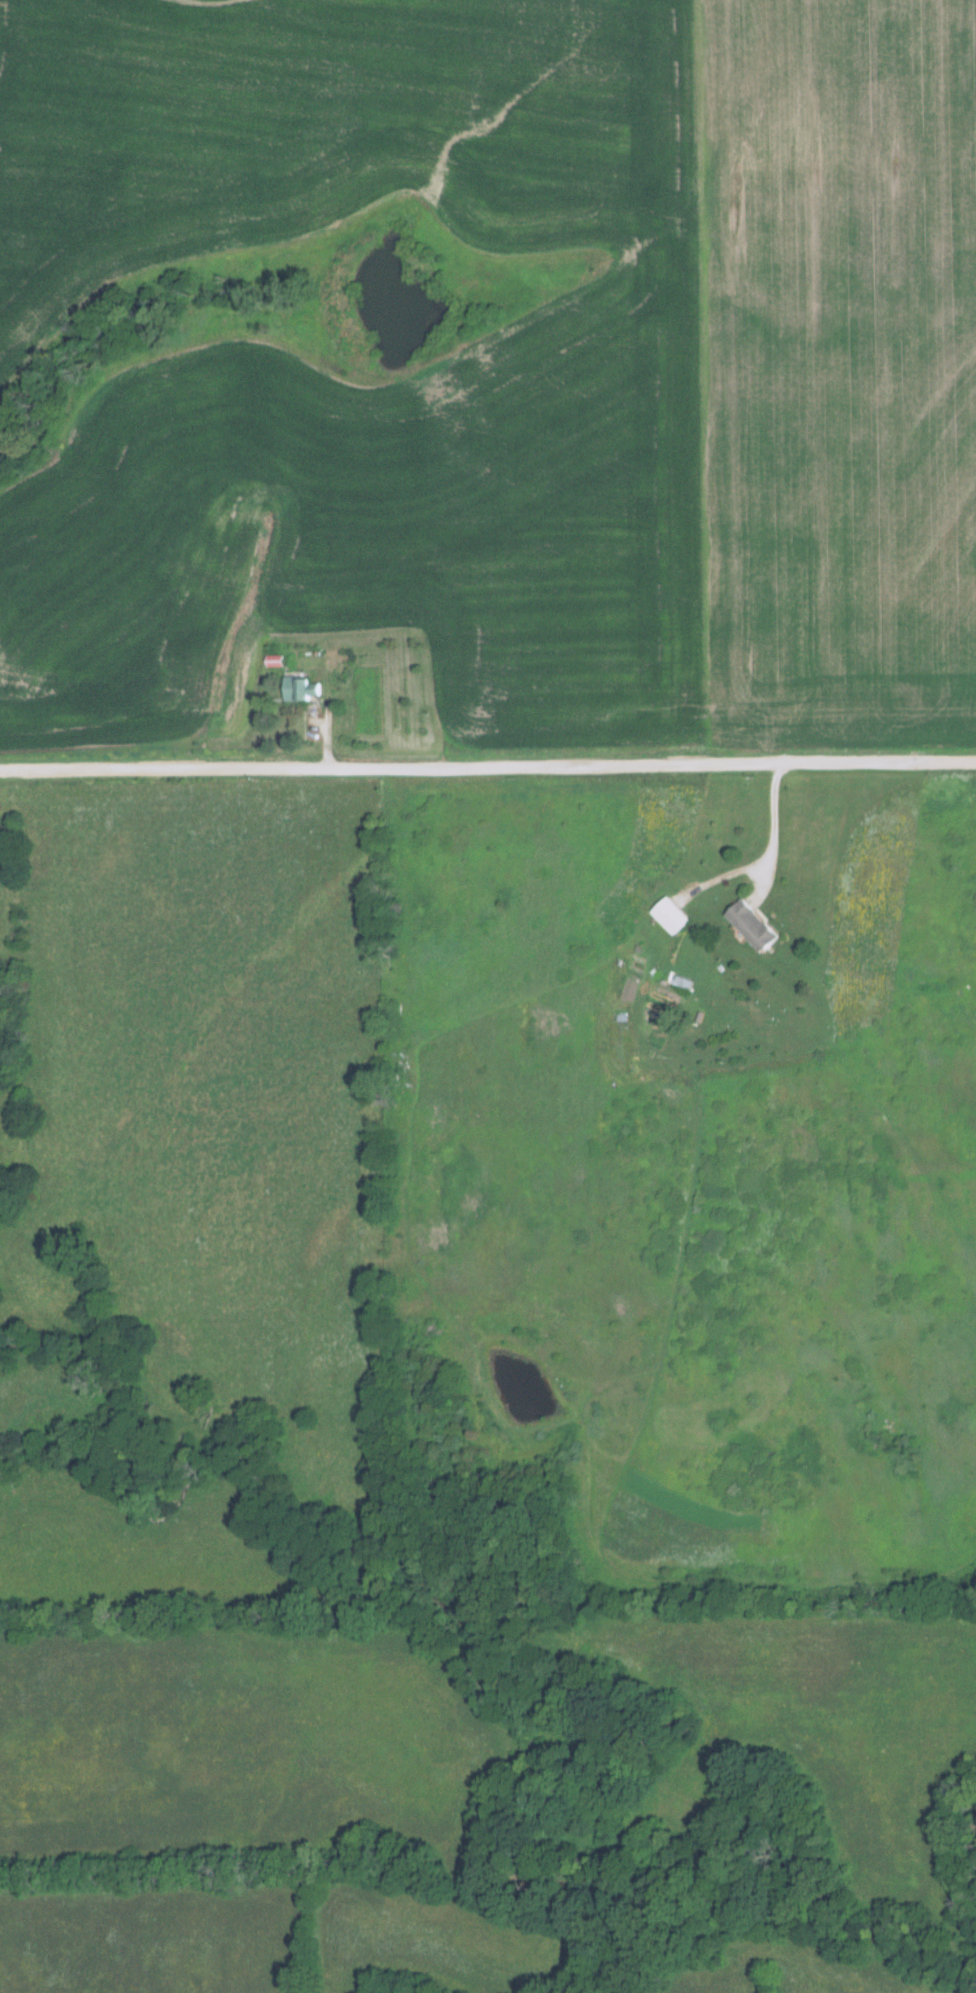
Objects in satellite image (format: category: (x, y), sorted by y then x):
building: (273, 660)
building: (301, 688)
road: (488, 763)
building: (671, 914)
building: (753, 924)

